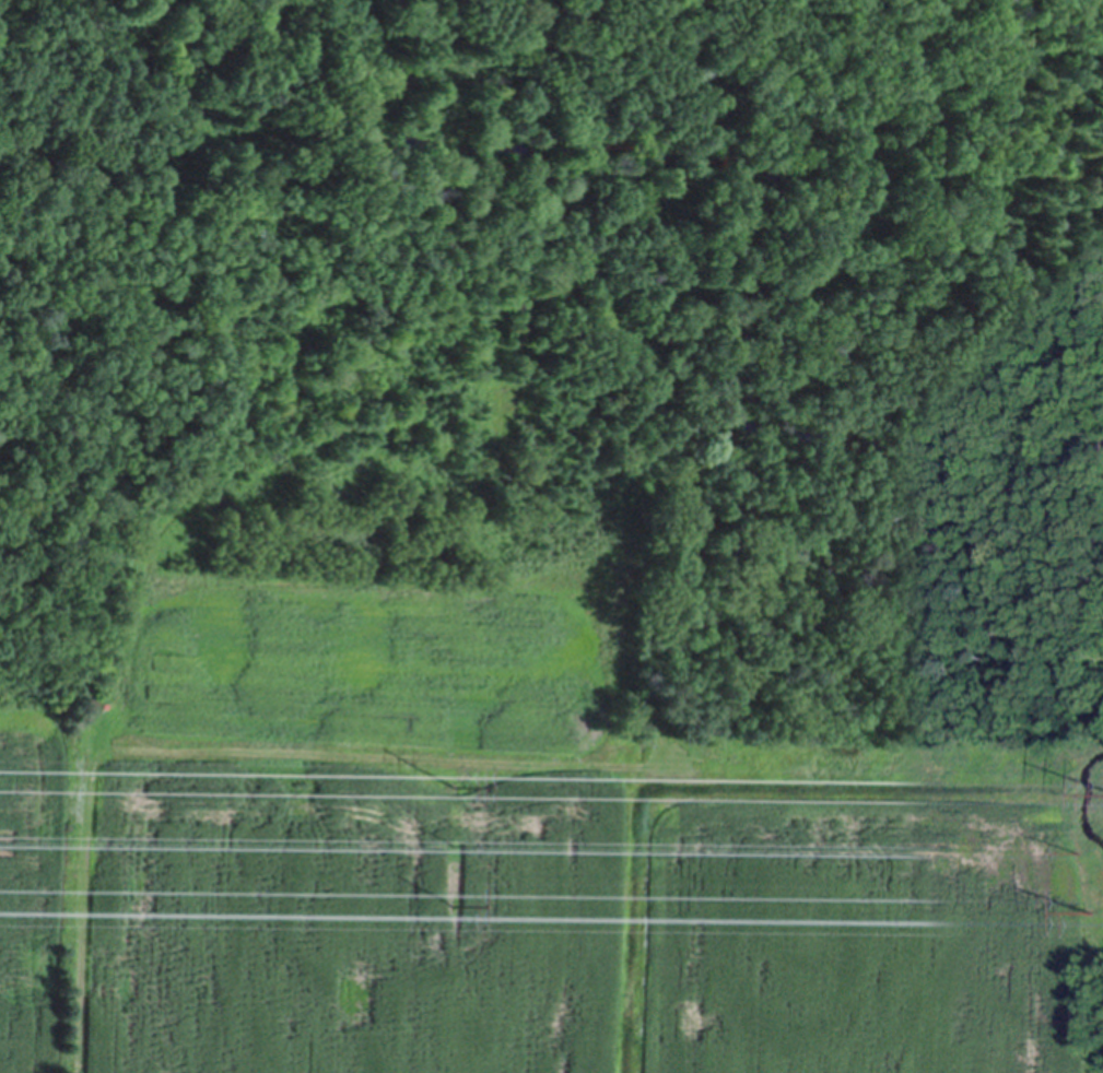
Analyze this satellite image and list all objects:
river: (704, 158)
power tower: (451, 782)
river: (1088, 801)

